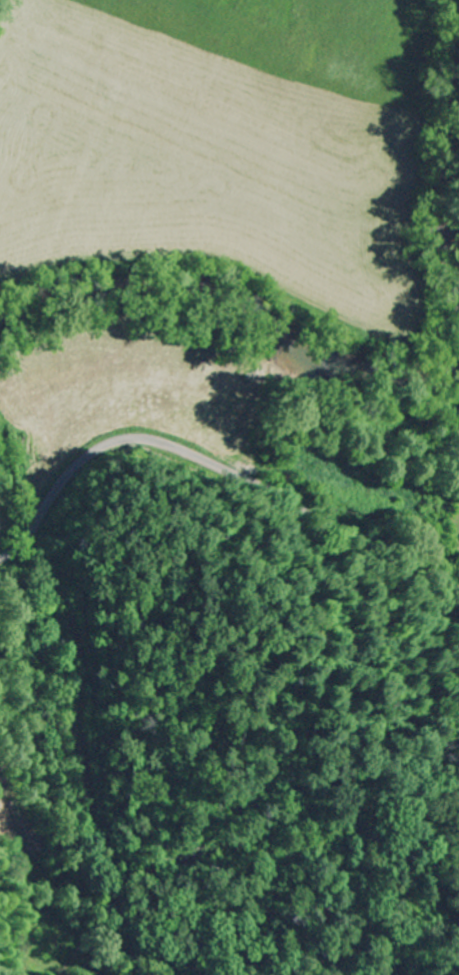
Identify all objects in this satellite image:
river: (454, 174)
river: (241, 302)
road: (227, 470)

